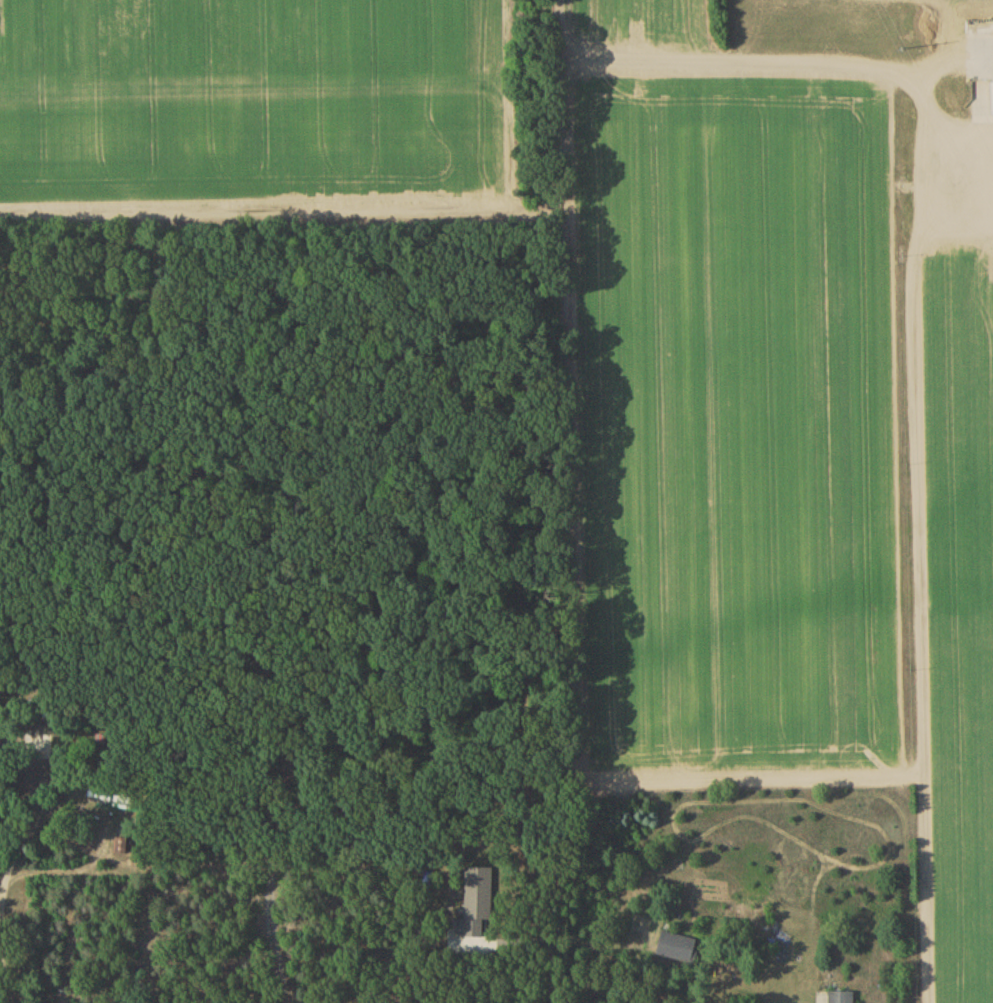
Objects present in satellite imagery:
building: (992, 100)
road: (562, 161)
road: (919, 581)
building: (109, 798)
building: (121, 847)
road: (6, 884)
road: (546, 927)
building: (678, 950)
building: (842, 998)

